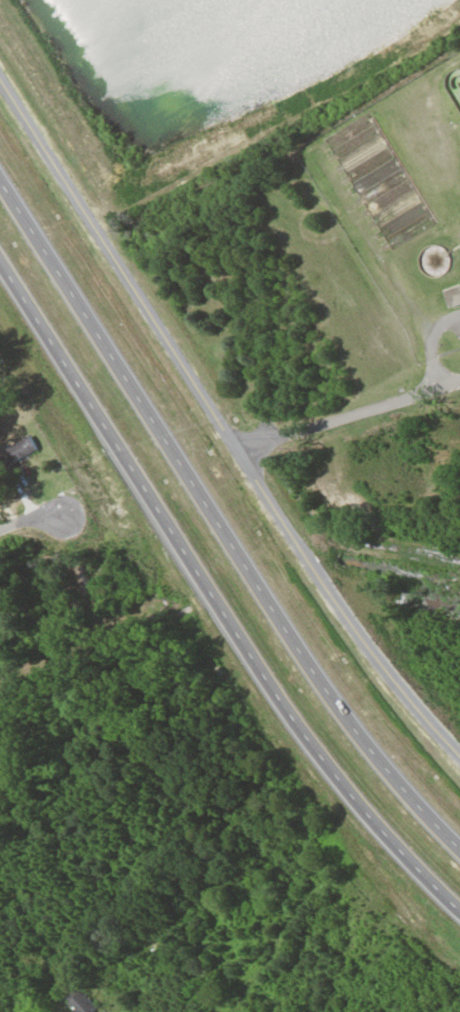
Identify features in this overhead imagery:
building: (369, 173)
building: (44, 225)
building: (17, 270)
building: (453, 296)
building: (192, 399)
road: (325, 419)
building: (70, 422)
road: (220, 422)
building: (19, 451)
building: (157, 502)
road: (28, 519)
road: (218, 523)
road: (213, 597)

